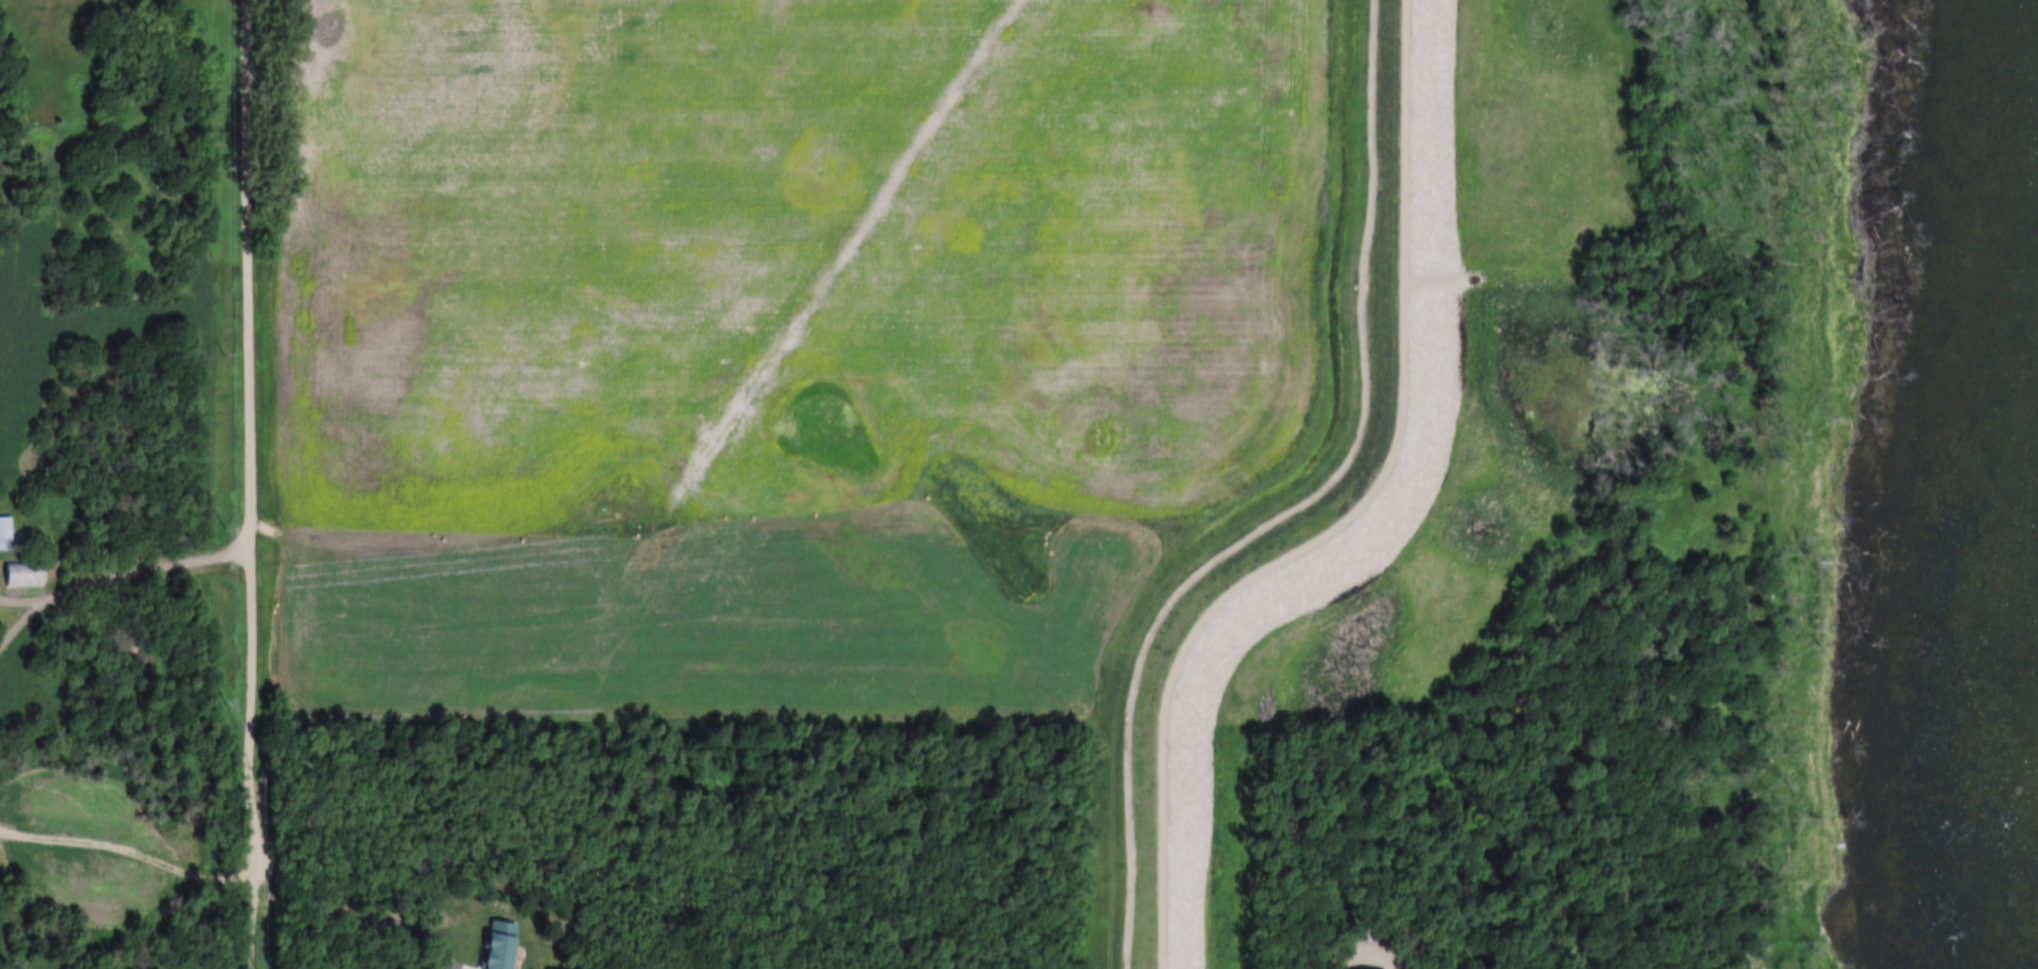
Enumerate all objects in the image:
road: (254, 437)
building: (5, 535)
road: (115, 573)
building: (25, 575)
building: (3, 883)
road: (363, 913)
road: (258, 922)
building: (501, 945)

